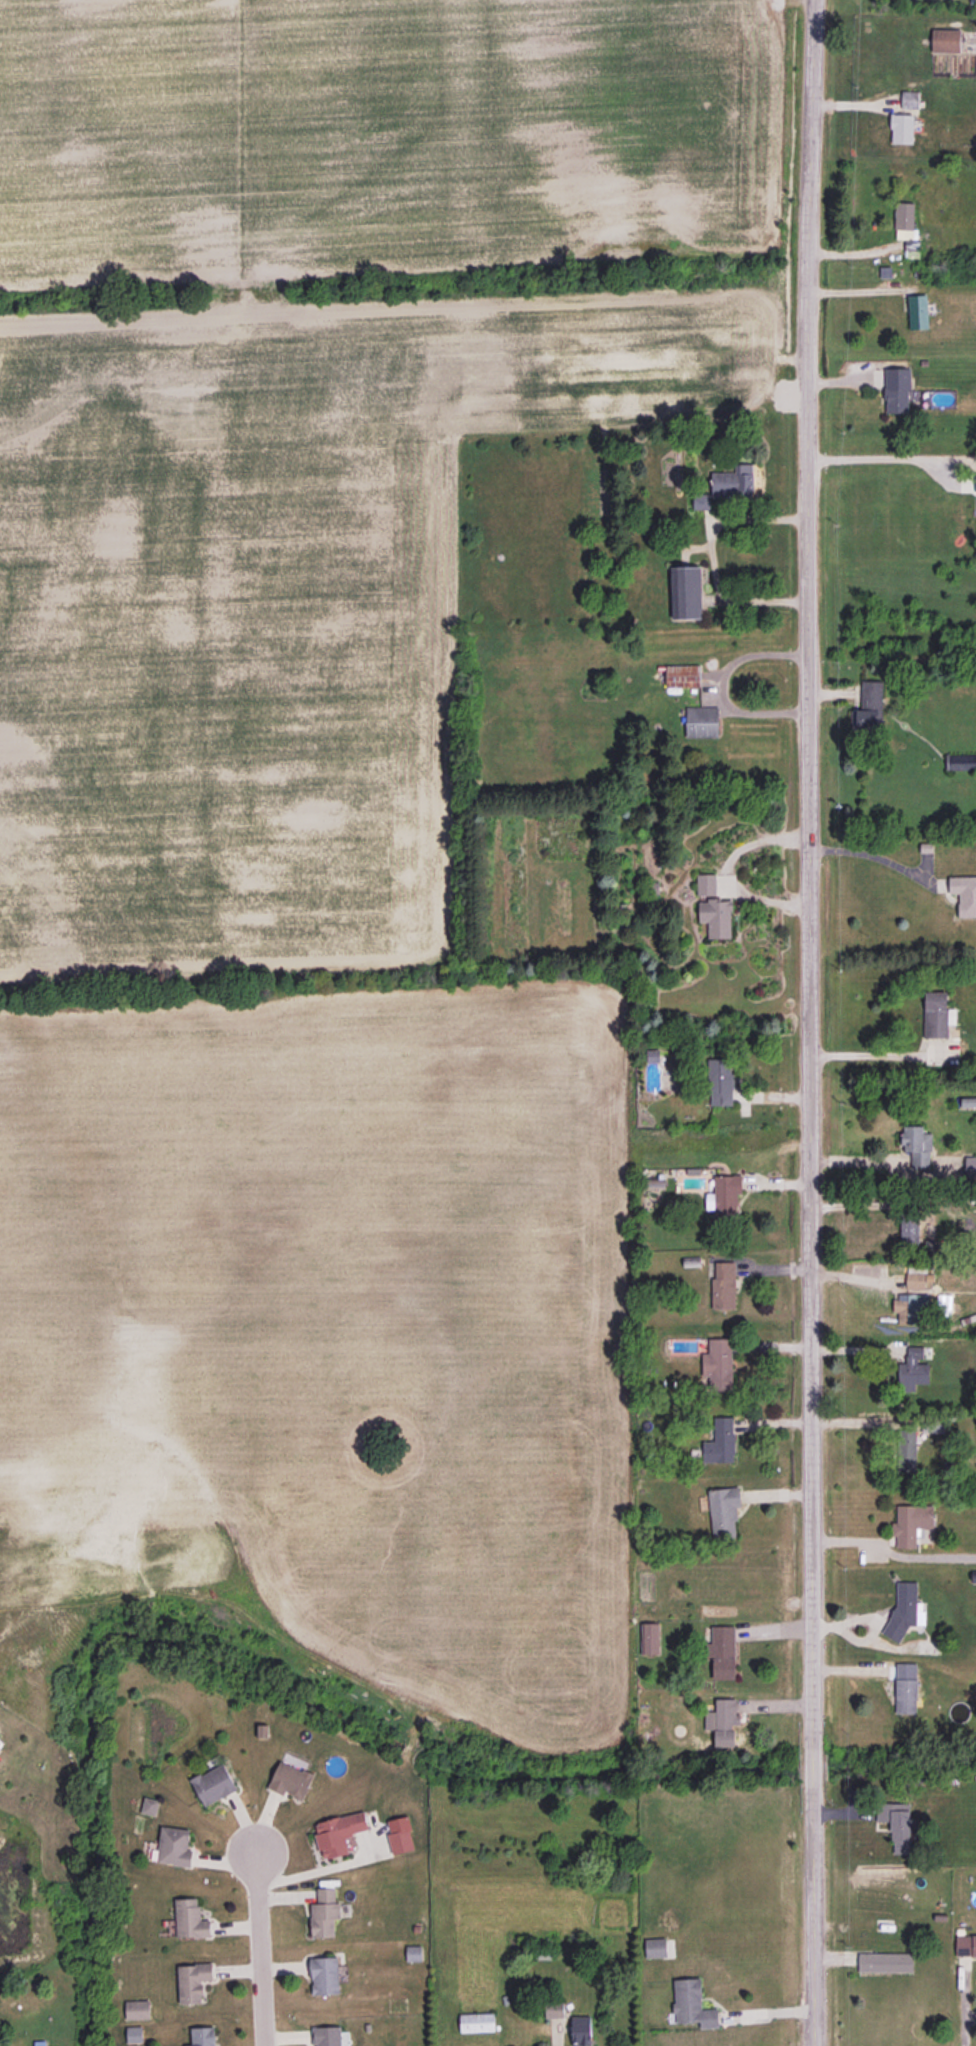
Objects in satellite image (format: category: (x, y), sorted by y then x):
building: (946, 40)
building: (904, 215)
road: (858, 289)
building: (918, 311)
building: (897, 390)
road: (892, 458)
building: (733, 481)
building: (701, 501)
road: (711, 558)
building: (686, 592)
building: (683, 675)
road: (719, 686)
building: (868, 709)
building: (702, 721)
road: (874, 856)
road: (729, 869)
building: (706, 884)
building: (716, 917)
building: (936, 1014)
road: (809, 1022)
road: (879, 1054)
building: (721, 1081)
building: (917, 1145)
road: (872, 1159)
building: (970, 1167)
building: (726, 1197)
building: (915, 1280)
building: (723, 1285)
building: (910, 1306)
building: (718, 1364)
building: (912, 1373)
building: (721, 1441)
building: (907, 1449)
building: (724, 1510)
building: (911, 1523)
road: (892, 1551)
building: (649, 1638)
building: (724, 1652)
building: (906, 1695)
building: (723, 1721)
building: (290, 1780)
building: (214, 1784)
building: (150, 1805)
building: (896, 1824)
building: (338, 1833)
building: (400, 1834)
building: (174, 1846)
road: (325, 1868)
building: (324, 1913)
building: (191, 1918)
road: (257, 1943)
building: (966, 1946)
building: (414, 1952)
building: (886, 1961)
building: (325, 1975)
building: (193, 1981)
building: (692, 2003)
road: (963, 2007)
building: (137, 2009)
building: (555, 2009)
building: (477, 2022)
building: (581, 2030)
building: (134, 2033)
building: (203, 2036)
building: (327, 2036)

